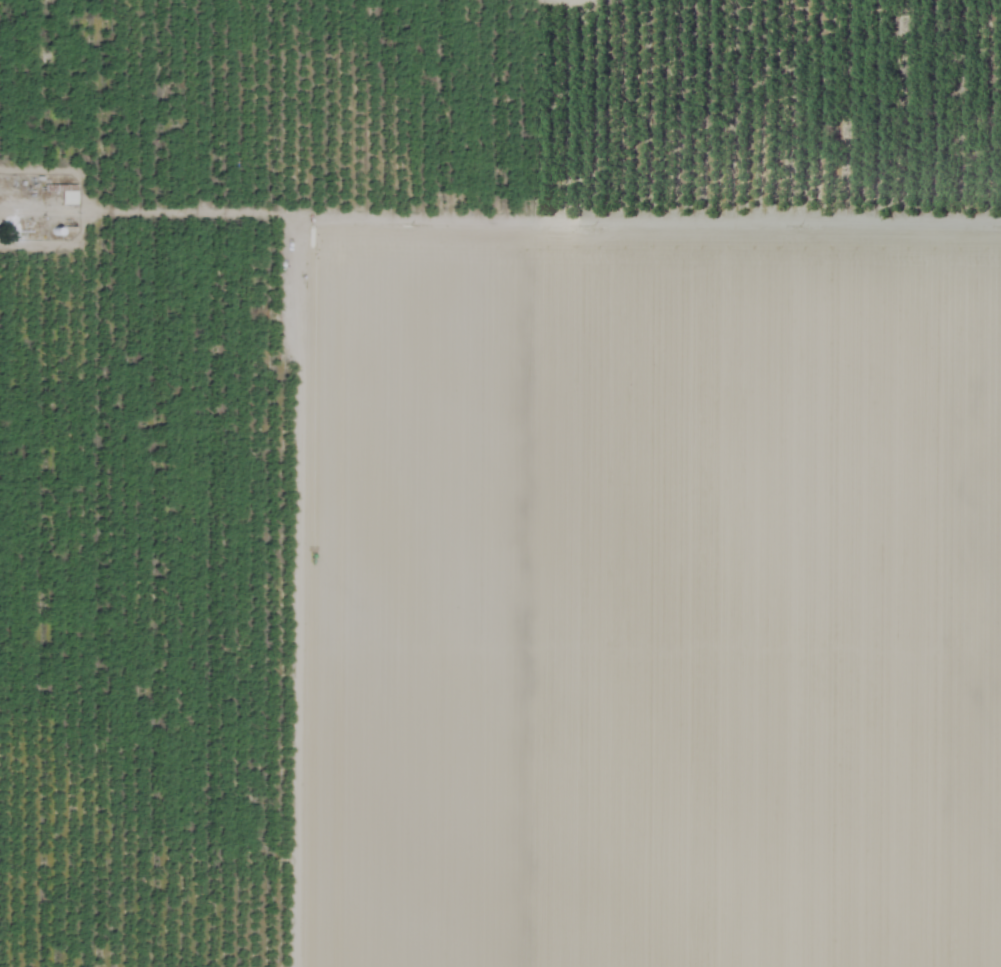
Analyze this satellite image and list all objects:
building: (67, 198)
road: (6, 218)
crop: (500, 483)

